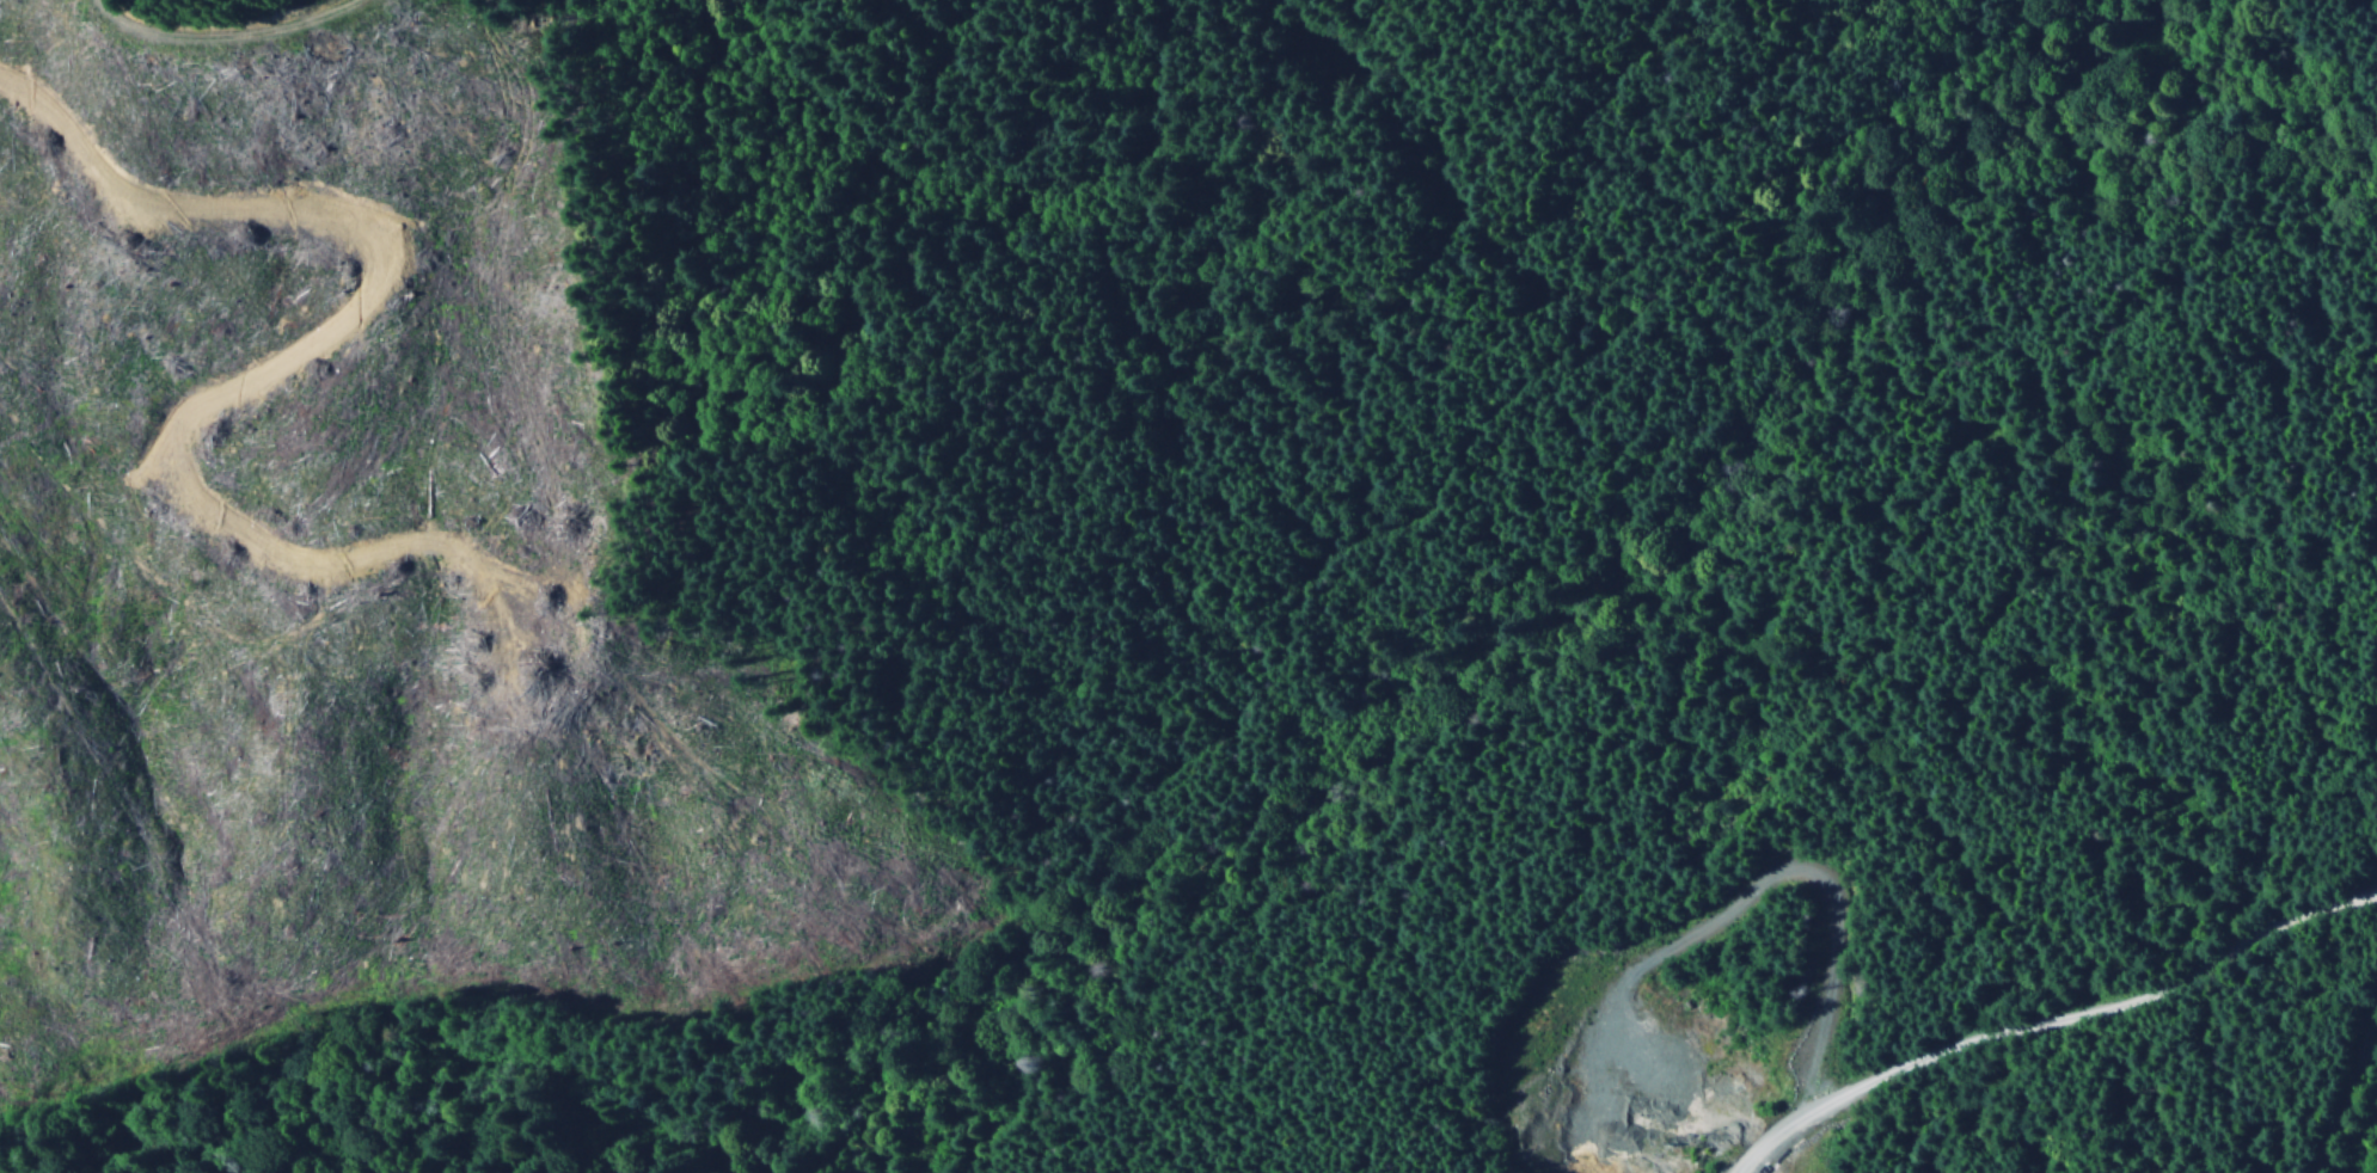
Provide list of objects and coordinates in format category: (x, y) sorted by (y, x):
road: (275, 57)
road: (1166, 346)
road: (1246, 705)
road: (2050, 1025)

